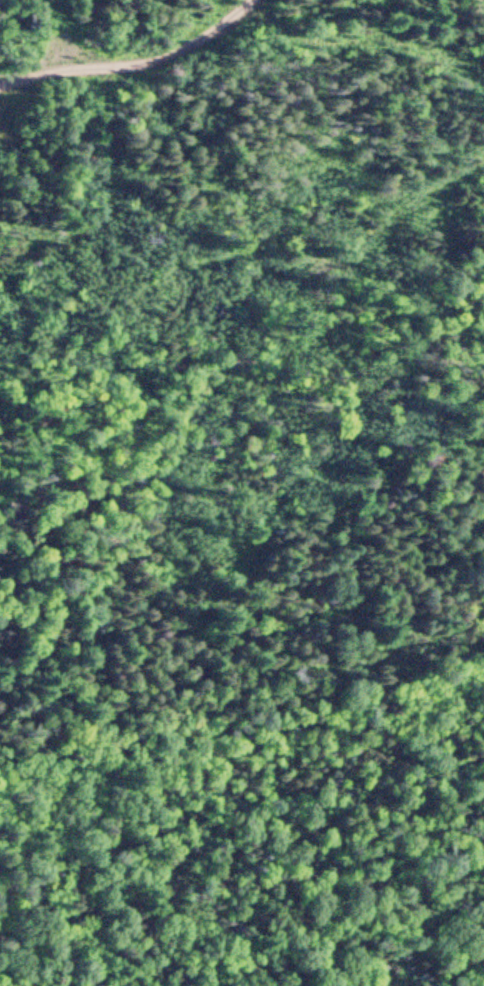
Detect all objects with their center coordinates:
road: (136, 63)

